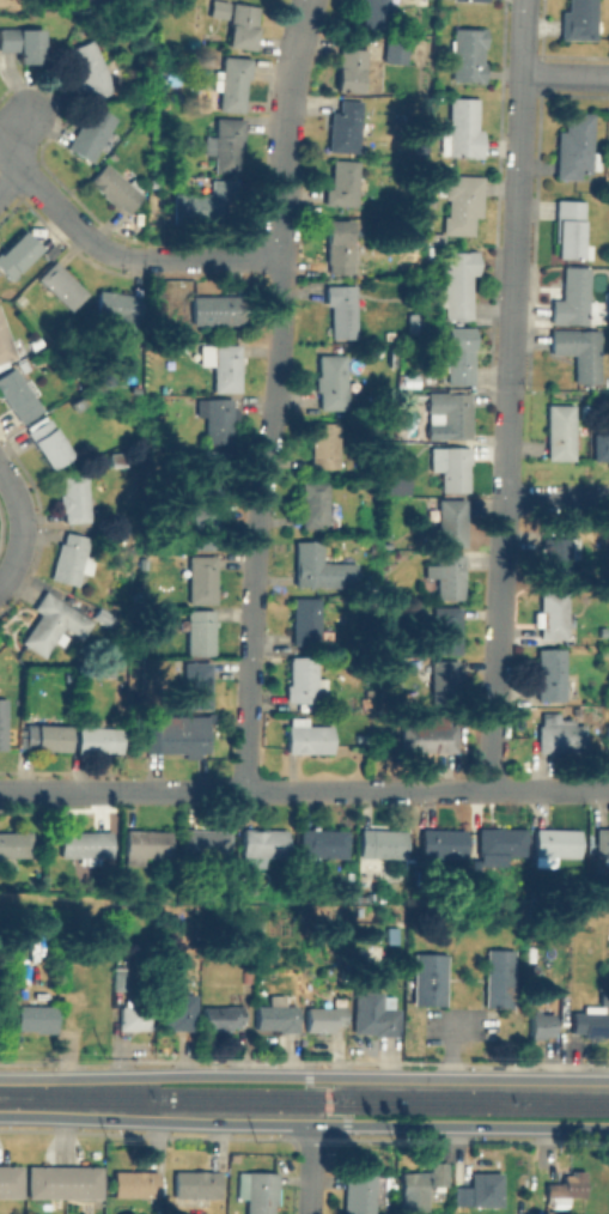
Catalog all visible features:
building: (475, 0)
building: (374, 13)
building: (237, 20)
building: (579, 20)
building: (23, 43)
building: (396, 51)
building: (468, 54)
building: (351, 66)
building: (372, 69)
building: (91, 72)
road: (567, 74)
building: (232, 83)
building: (345, 126)
building: (462, 128)
road: (18, 133)
building: (92, 133)
building: (226, 144)
road: (7, 147)
building: (575, 147)
road: (10, 175)
building: (342, 182)
building: (116, 187)
road: (519, 198)
building: (461, 201)
building: (203, 202)
road: (69, 220)
building: (571, 229)
building: (340, 247)
building: (17, 254)
road: (212, 260)
building: (459, 283)
building: (61, 285)
building: (574, 298)
building: (218, 309)
building: (118, 310)
building: (342, 311)
building: (415, 326)
building: (389, 335)
building: (31, 342)
building: (5, 344)
building: (579, 351)
building: (459, 354)
building: (226, 368)
building: (333, 381)
building: (410, 381)
building: (17, 395)
road: (273, 395)
building: (402, 395)
building: (75, 405)
building: (450, 413)
building: (218, 420)
building: (561, 432)
building: (48, 444)
building: (324, 445)
building: (602, 445)
building: (117, 462)
building: (452, 468)
building: (212, 474)
building: (398, 485)
building: (74, 498)
road: (558, 499)
building: (315, 504)
building: (452, 523)
road: (25, 526)
building: (206, 527)
building: (607, 548)
building: (556, 559)
building: (72, 560)
building: (321, 567)
building: (449, 576)
building: (202, 579)
road: (501, 594)
building: (552, 614)
building: (305, 620)
building: (53, 623)
building: (446, 630)
building: (201, 632)
building: (550, 673)
building: (305, 680)
building: (444, 684)
building: (197, 685)
building: (2, 722)
building: (560, 733)
building: (178, 735)
building: (428, 735)
building: (309, 736)
building: (47, 737)
building: (607, 737)
building: (98, 740)
road: (364, 791)
road: (28, 793)
road: (86, 793)
building: (602, 842)
building: (86, 843)
building: (499, 843)
building: (556, 843)
building: (16, 844)
building: (205, 844)
building: (146, 845)
building: (263, 845)
building: (321, 845)
building: (440, 845)
building: (379, 846)
road: (56, 904)
building: (97, 927)
building: (258, 927)
building: (391, 935)
building: (266, 952)
building: (426, 978)
building: (495, 978)
building: (118, 982)
building: (177, 1010)
building: (278, 1014)
building: (221, 1016)
building: (37, 1018)
building: (136, 1018)
building: (325, 1018)
building: (592, 1020)
building: (377, 1021)
building: (541, 1025)
road: (304, 1076)
railway: (304, 1093)
road: (328, 1099)
railway: (304, 1105)
road: (304, 1124)
road: (310, 1169)
building: (438, 1173)
building: (11, 1179)
building: (63, 1180)
building: (135, 1183)
building: (196, 1186)
building: (567, 1186)
building: (486, 1188)
building: (258, 1189)
building: (415, 1191)
building: (360, 1192)
building: (461, 1195)
building: (550, 1213)

